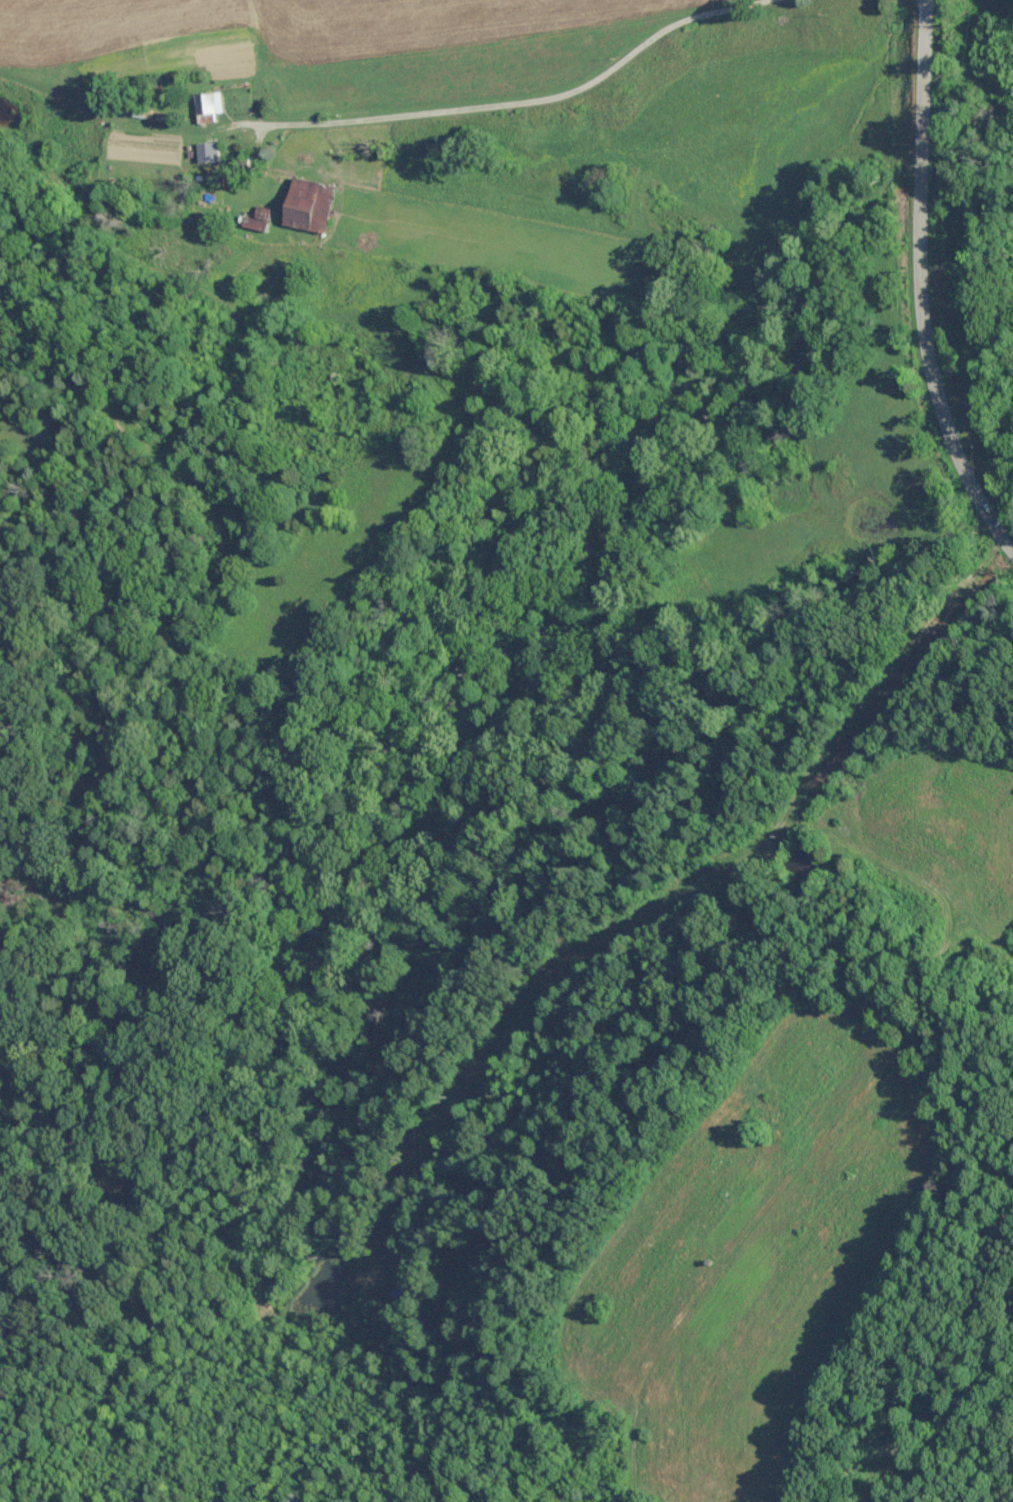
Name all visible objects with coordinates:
road: (254, 63)
road: (518, 98)
building: (209, 105)
building: (239, 178)
building: (213, 200)
building: (312, 204)
building: (260, 218)
road: (922, 282)

